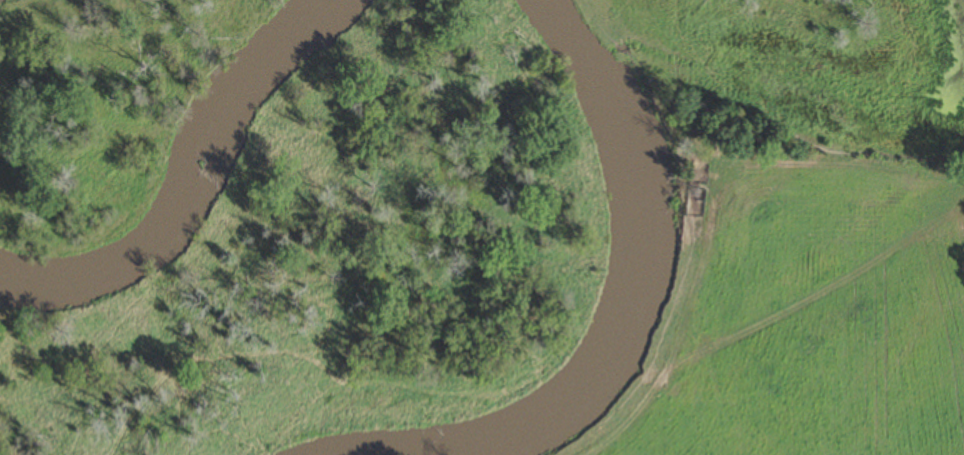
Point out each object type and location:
river: (631, 151)
river: (194, 180)
crop: (795, 300)
river: (489, 436)

